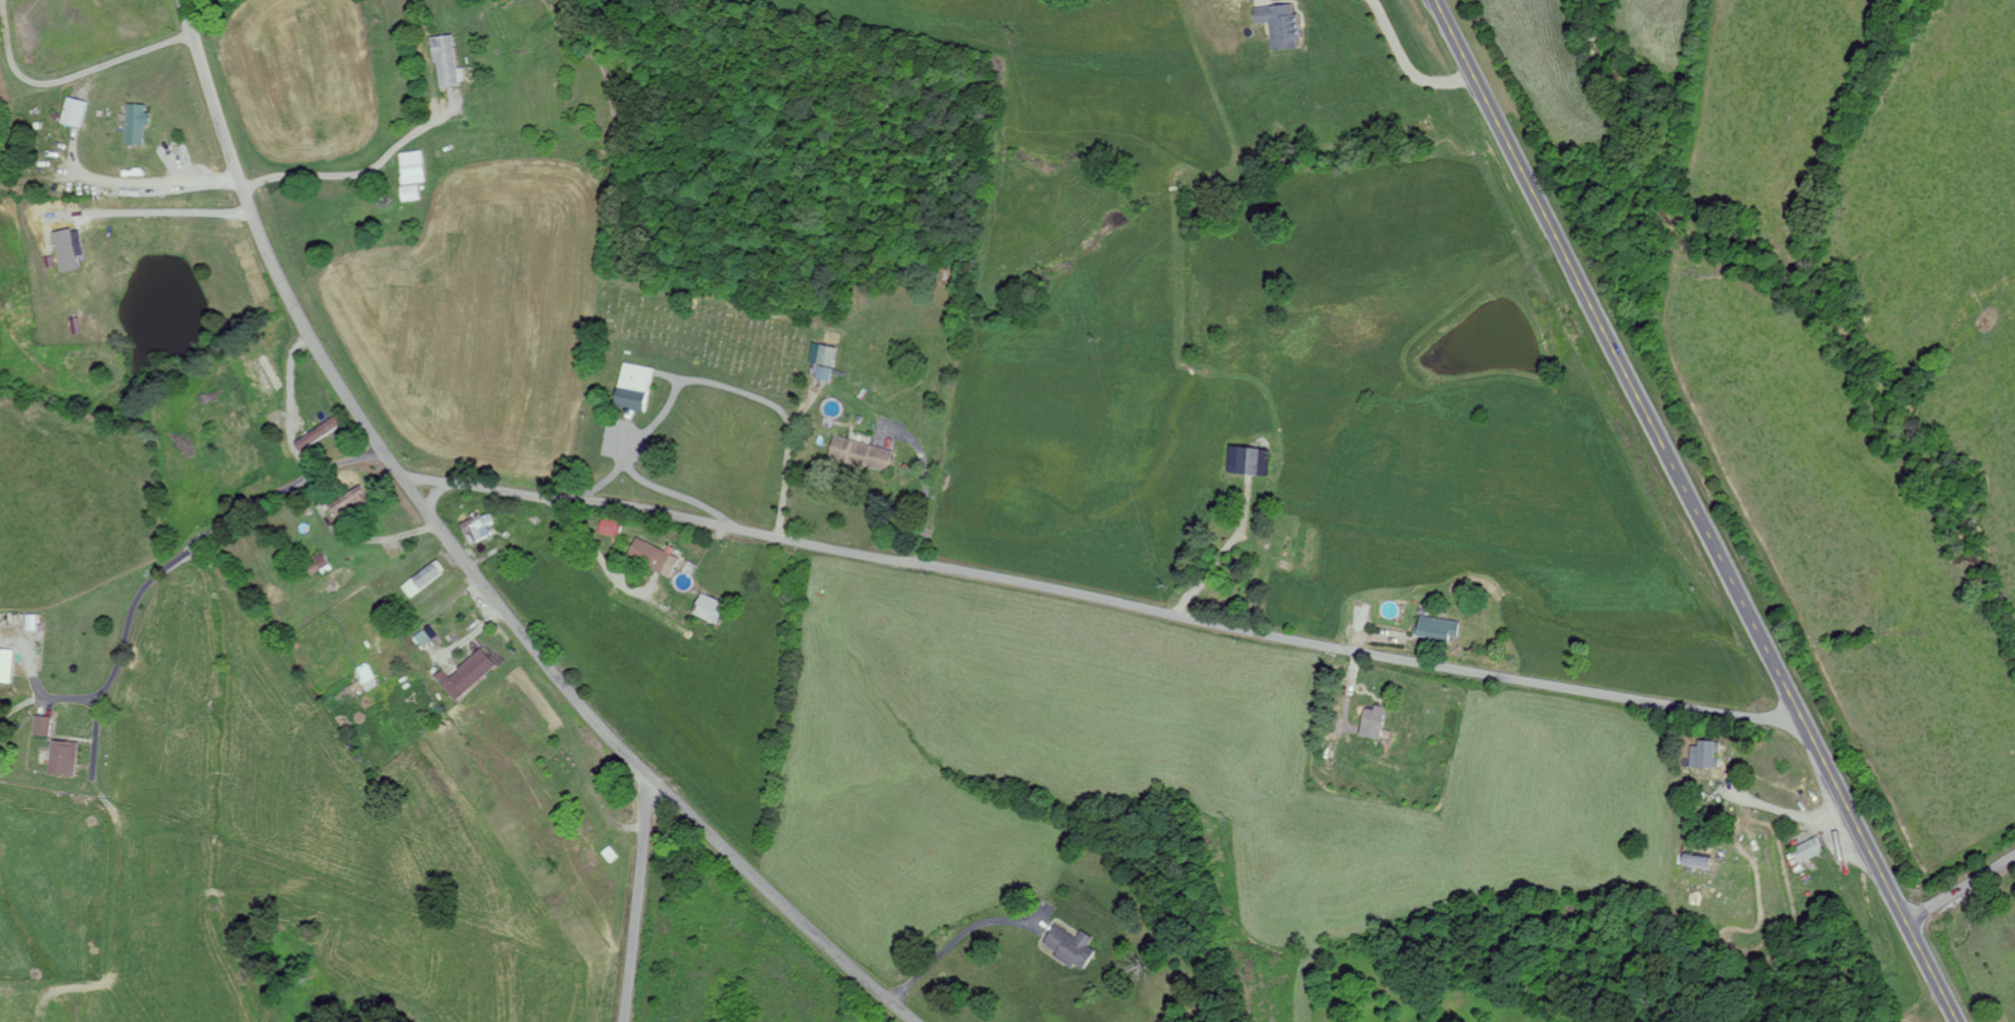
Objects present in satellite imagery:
building: (1278, 25)
building: (443, 59)
road: (1407, 63)
road: (70, 75)
building: (74, 112)
building: (134, 123)
building: (410, 167)
road: (323, 174)
building: (408, 193)
building: (67, 249)
park: (699, 332)
building: (633, 387)
road: (655, 419)
building: (322, 435)
building: (859, 454)
road: (785, 460)
building: (1246, 461)
road: (643, 478)
road: (925, 483)
building: (355, 502)
road: (1696, 511)
building: (617, 525)
building: (480, 527)
road: (185, 548)
road: (595, 552)
building: (659, 556)
building: (323, 564)
road: (469, 566)
road: (1104, 599)
building: (717, 608)
building: (1435, 628)
building: (9, 664)
building: (470, 674)
building: (370, 676)
building: (1370, 721)
building: (46, 725)
building: (1702, 753)
building: (69, 757)
building: (1805, 849)
road: (1960, 888)
road: (637, 898)
building: (1068, 946)

